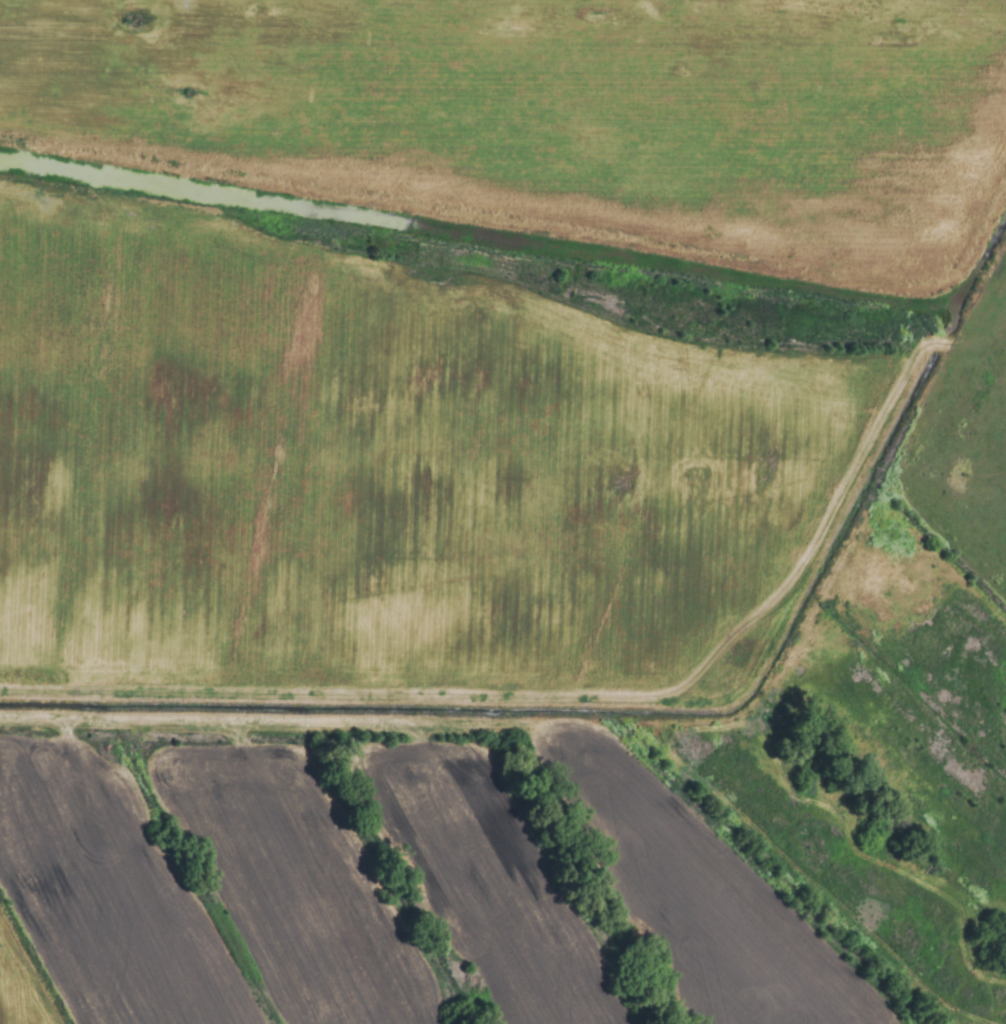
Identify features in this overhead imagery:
crop: (503, 512)

